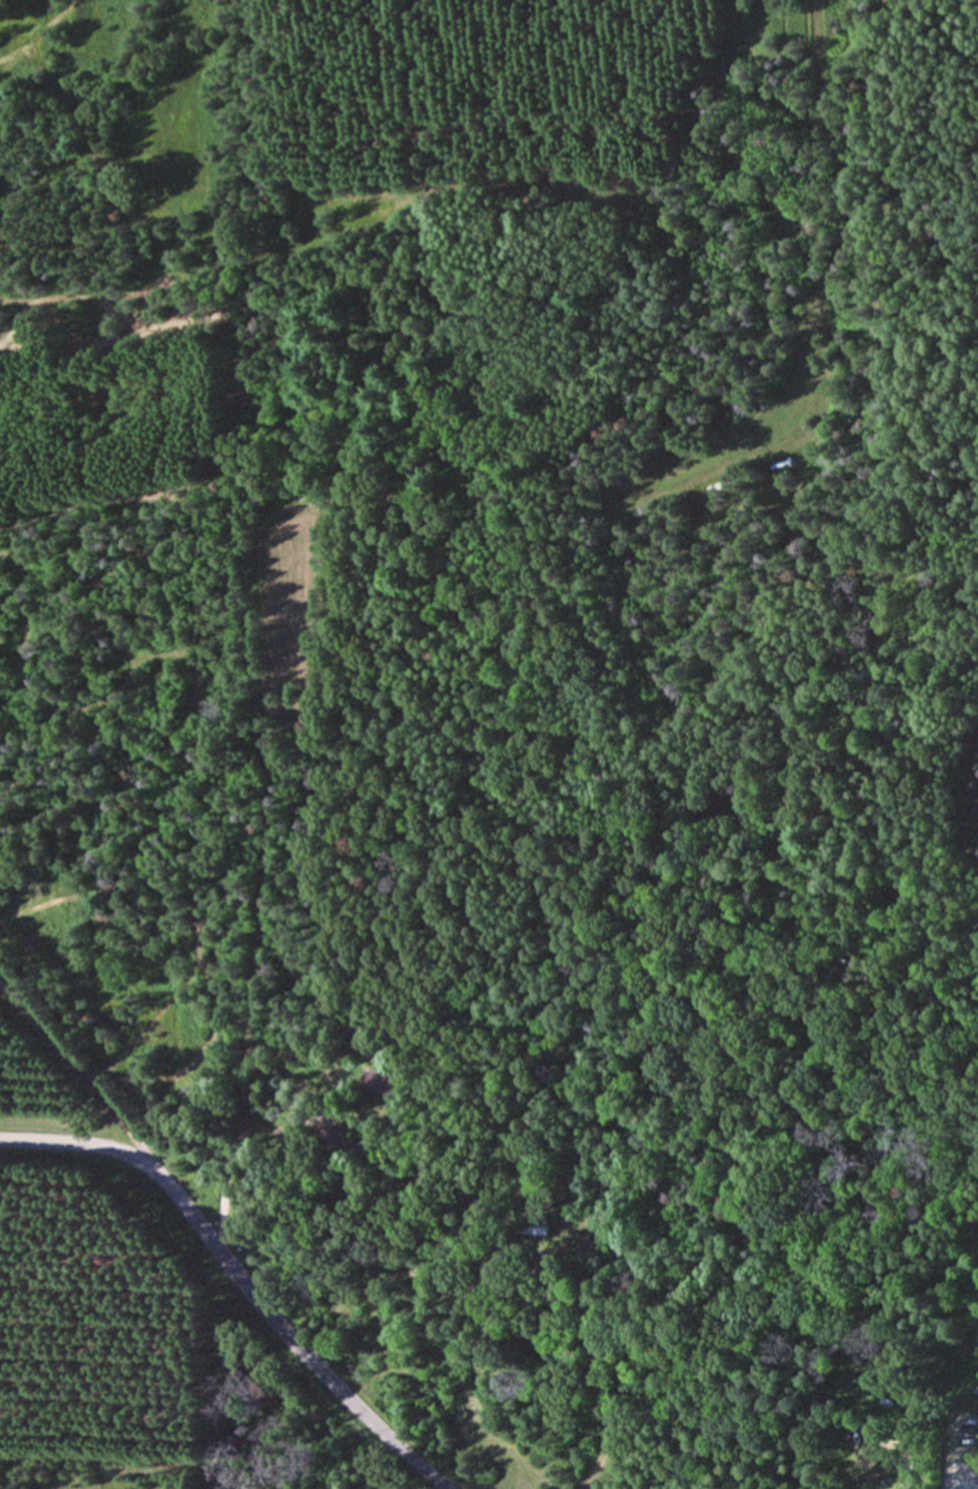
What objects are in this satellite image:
road: (82, 1082)
building: (381, 1083)
building: (334, 1142)
road: (220, 1203)
road: (238, 1278)

